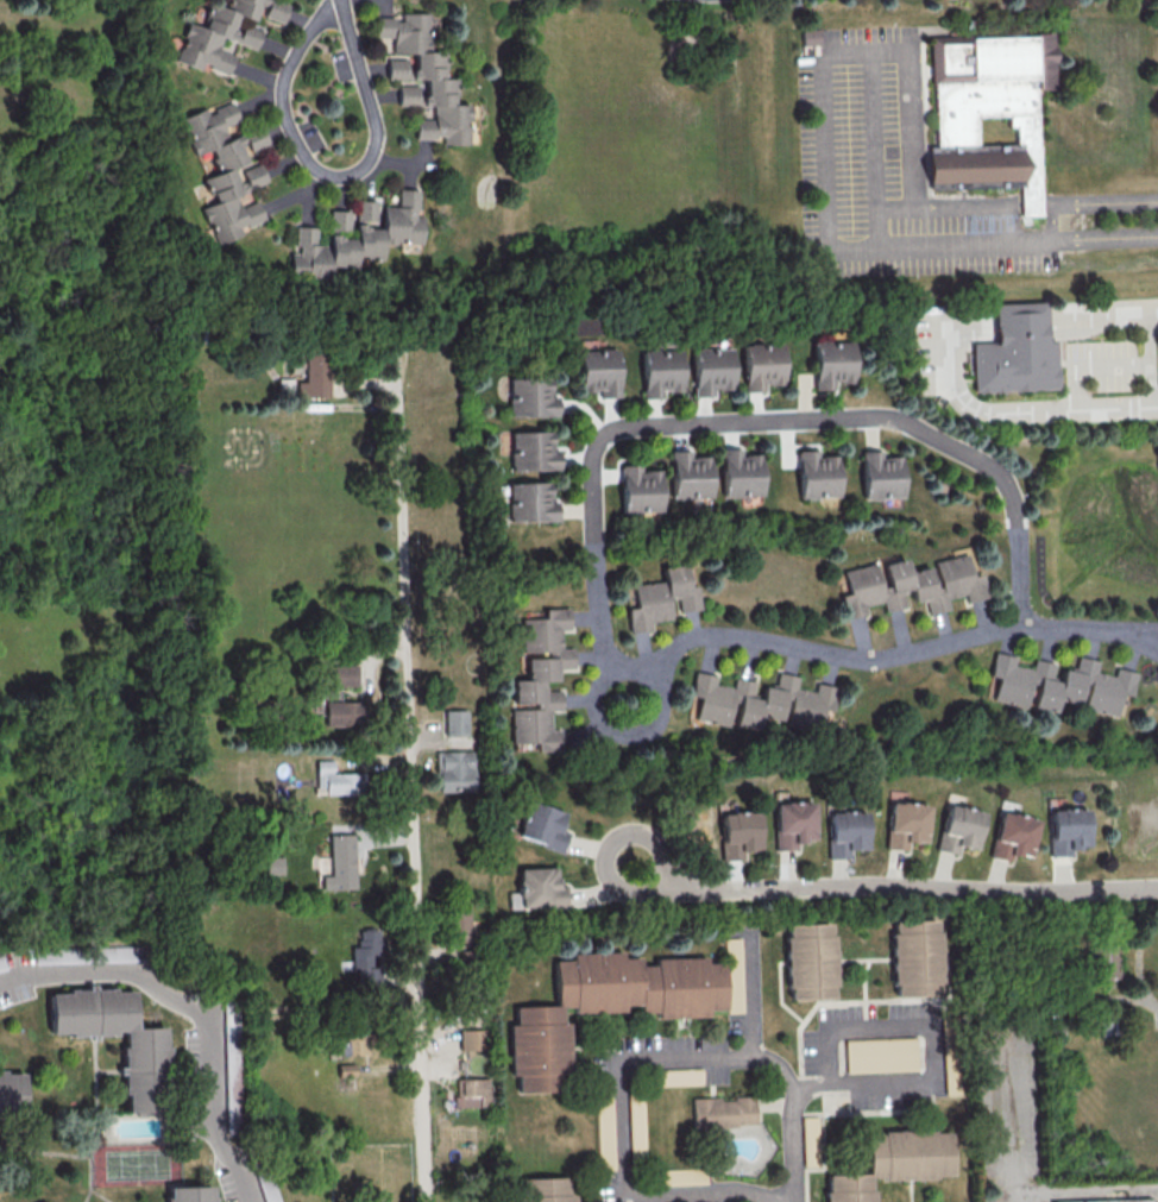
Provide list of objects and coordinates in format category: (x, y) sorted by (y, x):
building: (225, 31)
building: (810, 36)
road: (826, 57)
building: (395, 68)
building: (424, 80)
building: (987, 113)
road: (914, 127)
building: (224, 169)
road: (331, 175)
building: (354, 235)
road: (1025, 237)
road: (1103, 237)
road: (1109, 316)
building: (1013, 353)
road: (1089, 360)
building: (831, 363)
building: (761, 365)
building: (710, 370)
building: (598, 371)
building: (659, 371)
building: (313, 376)
building: (284, 385)
building: (529, 396)
road: (1154, 404)
road: (1061, 409)
building: (531, 451)
building: (740, 473)
building: (690, 474)
building: (817, 474)
building: (880, 476)
building: (638, 489)
building: (530, 502)
road: (594, 549)
building: (910, 585)
building: (661, 598)
road: (1066, 630)
road: (1135, 631)
road: (1135, 641)
building: (540, 679)
building: (1059, 684)
building: (761, 703)
road: (627, 704)
building: (454, 722)
building: (454, 770)
building: (338, 780)
road: (411, 804)
building: (793, 823)
building: (905, 823)
building: (541, 825)
building: (958, 827)
building: (1068, 830)
building: (845, 832)
building: (738, 833)
building: (1012, 836)
building: (340, 862)
building: (273, 864)
road: (600, 868)
road: (905, 887)
building: (536, 889)
building: (460, 926)
building: (366, 949)
building: (914, 957)
building: (808, 961)
building: (1104, 965)
road: (754, 995)
road: (1150, 1002)
building: (615, 1003)
road: (196, 1013)
road: (850, 1028)
building: (471, 1039)
building: (354, 1043)
building: (880, 1053)
building: (143, 1055)
building: (233, 1066)
building: (678, 1076)
road: (895, 1087)
building: (472, 1093)
building: (11, 1094)
road: (622, 1096)
building: (722, 1112)
building: (636, 1125)
building: (603, 1128)
building: (813, 1143)
road: (794, 1147)
building: (893, 1162)
park: (134, 1165)
building: (545, 1189)
building: (189, 1194)
building: (1126, 1201)

